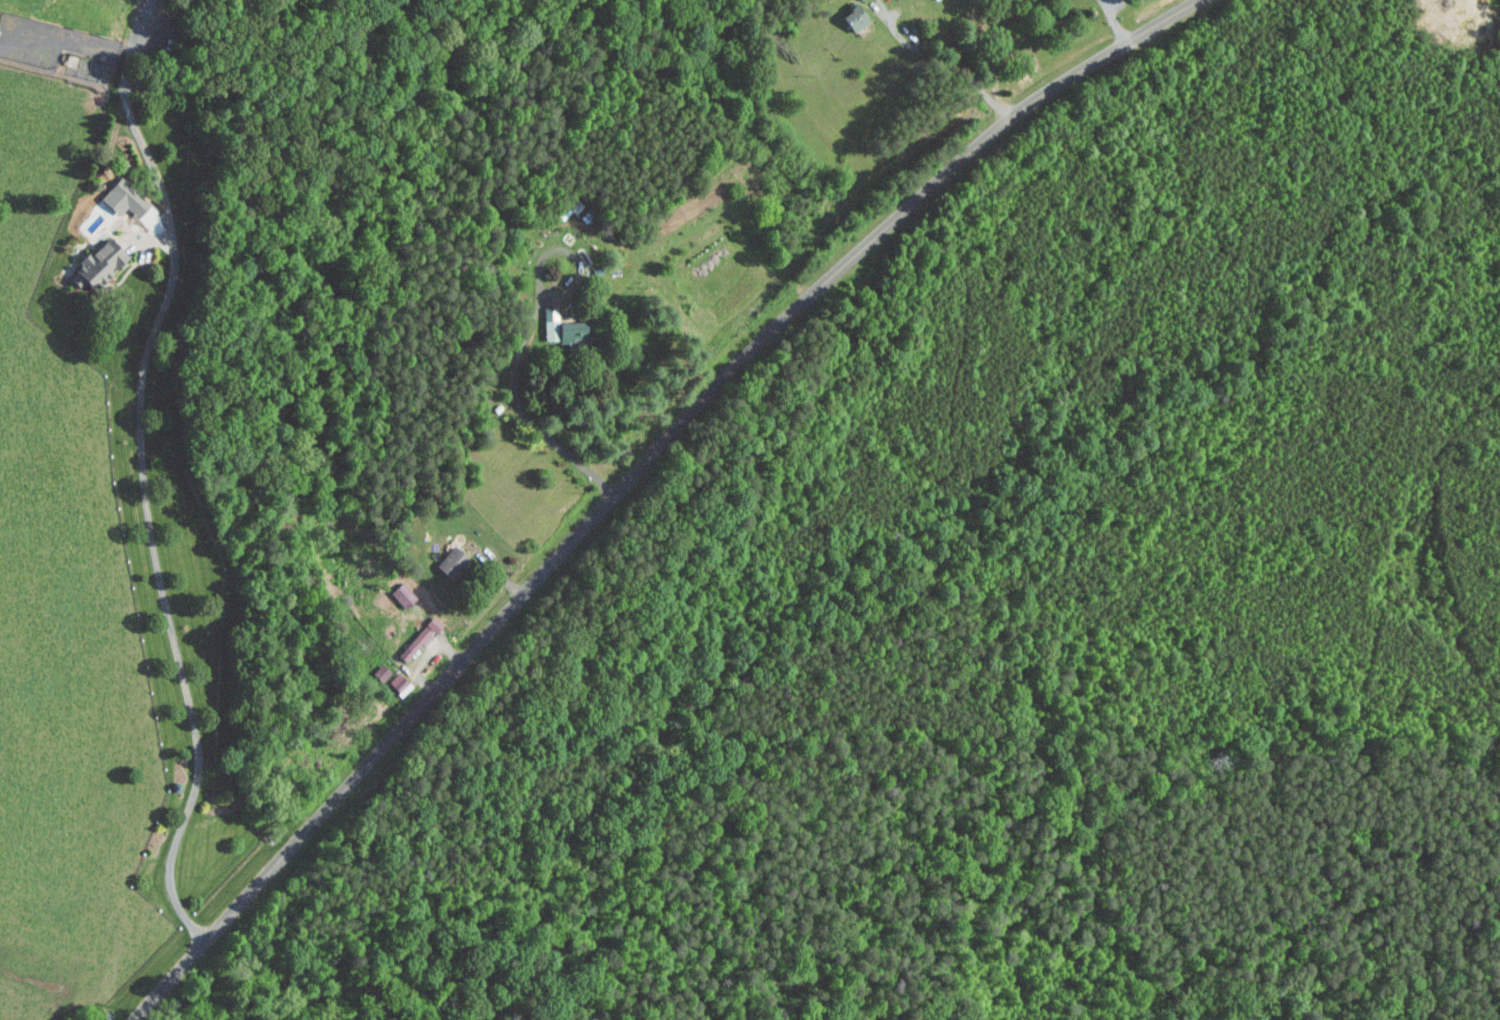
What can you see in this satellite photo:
building: (860, 0)
building: (852, 18)
building: (563, 332)
road: (526, 338)
road: (634, 474)
building: (449, 561)
building: (400, 593)
road: (165, 596)
building: (421, 634)
road: (428, 657)

